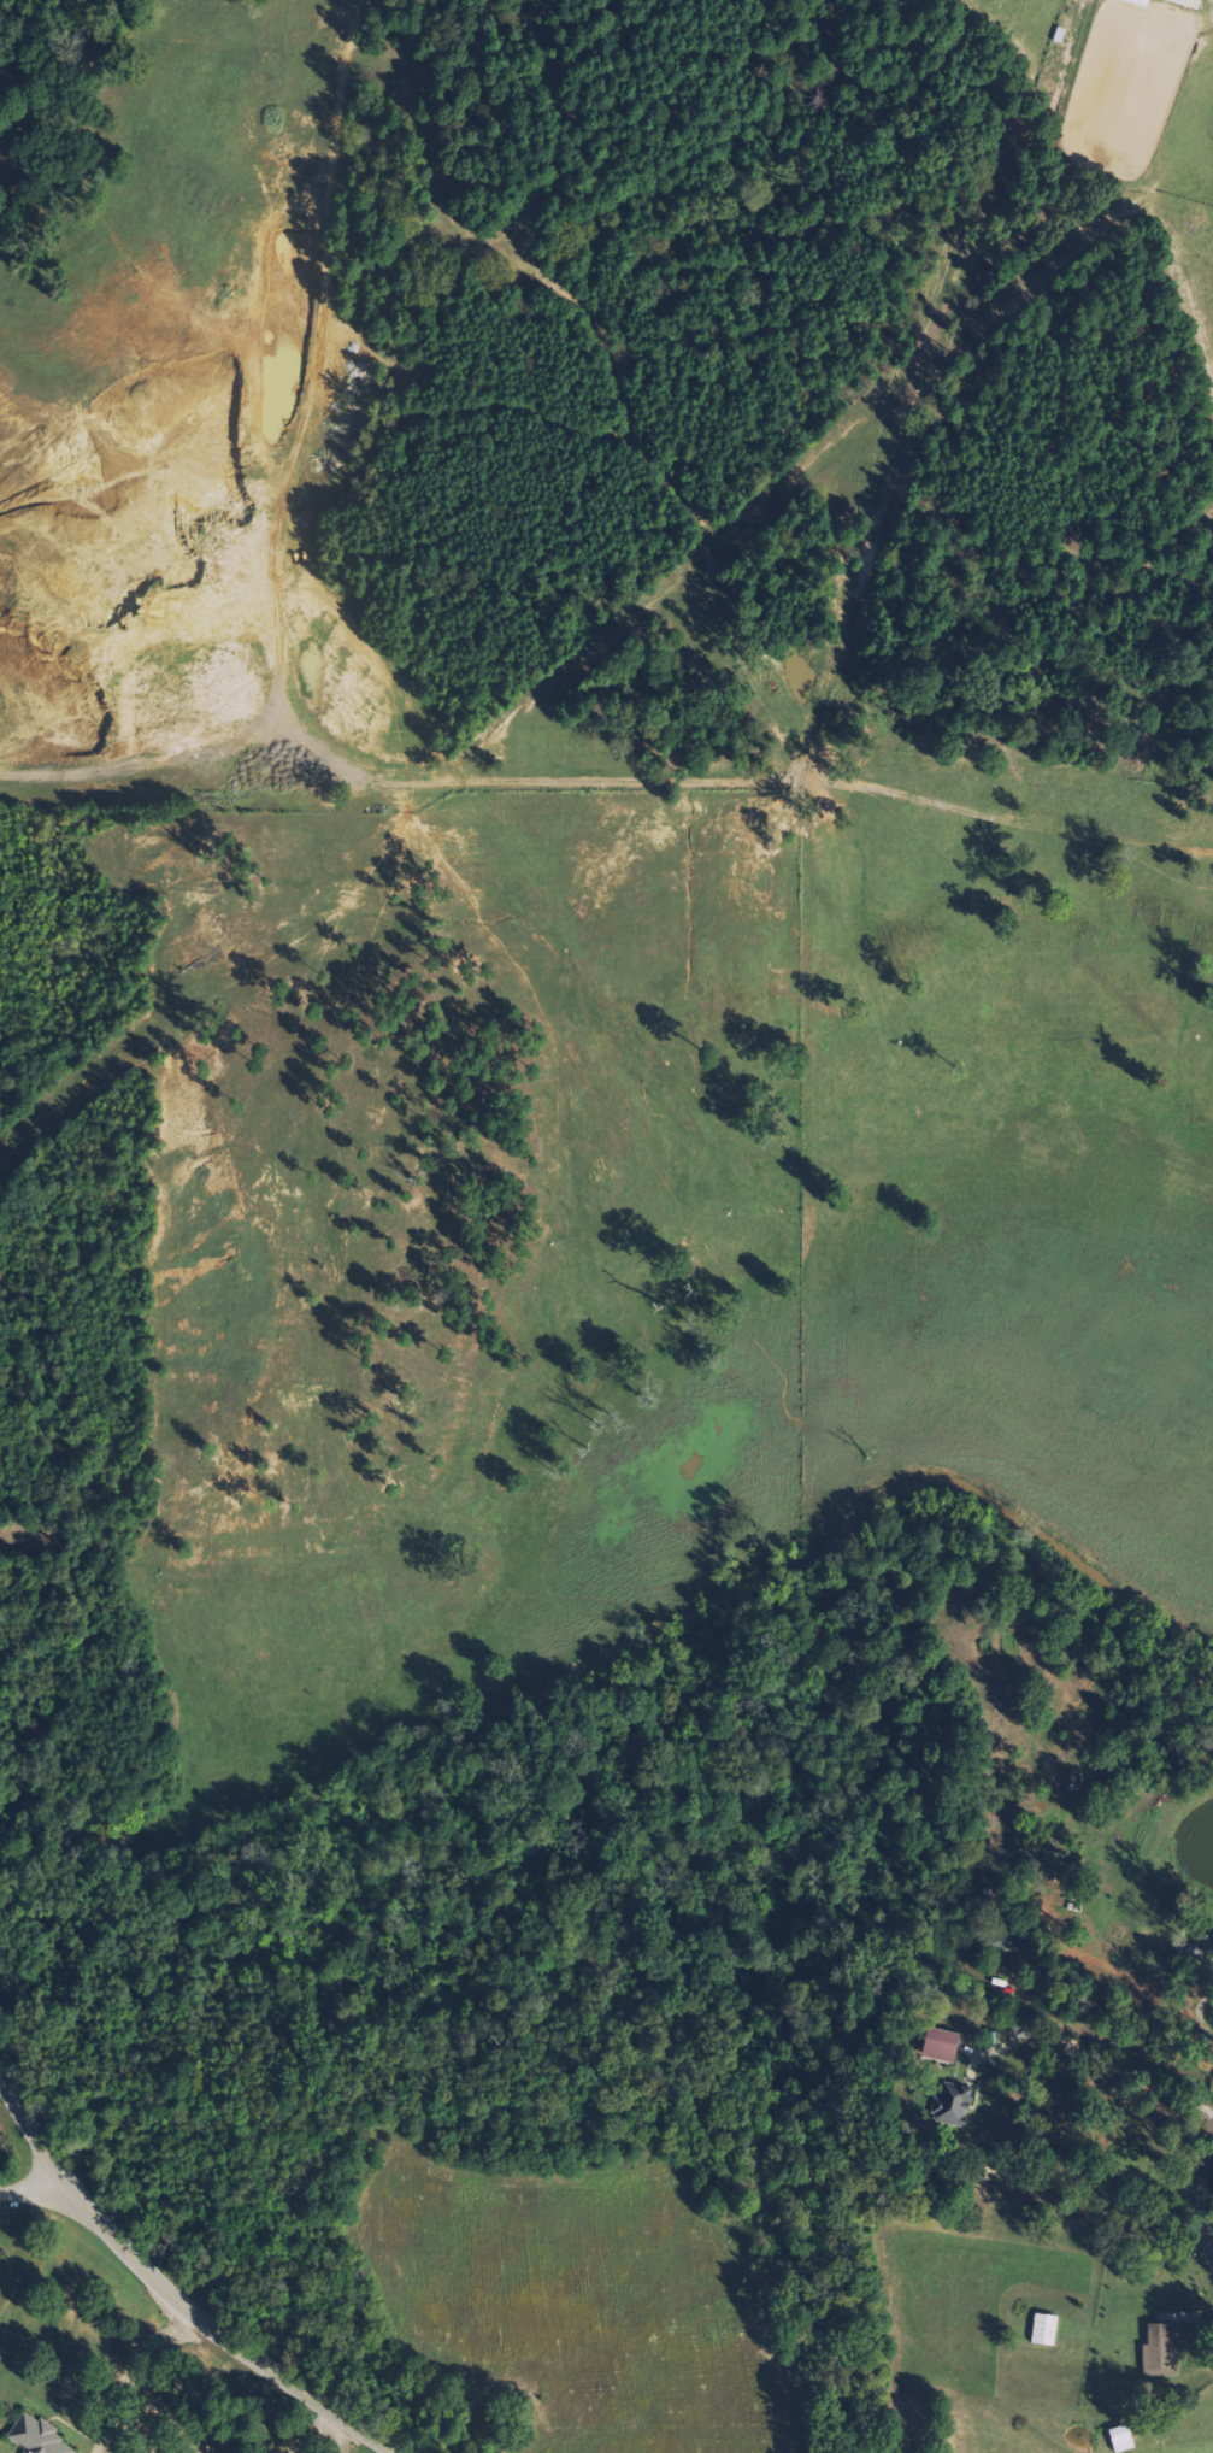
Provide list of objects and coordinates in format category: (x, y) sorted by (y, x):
building: (1141, 1)
building: (1188, 2)
building: (1001, 1945)
building: (944, 2046)
building: (954, 2105)
road: (42, 2190)
road: (1211, 2223)
road: (170, 2287)
building: (1046, 2330)
building: (1162, 2351)
building: (39, 2436)
building: (1124, 2440)

